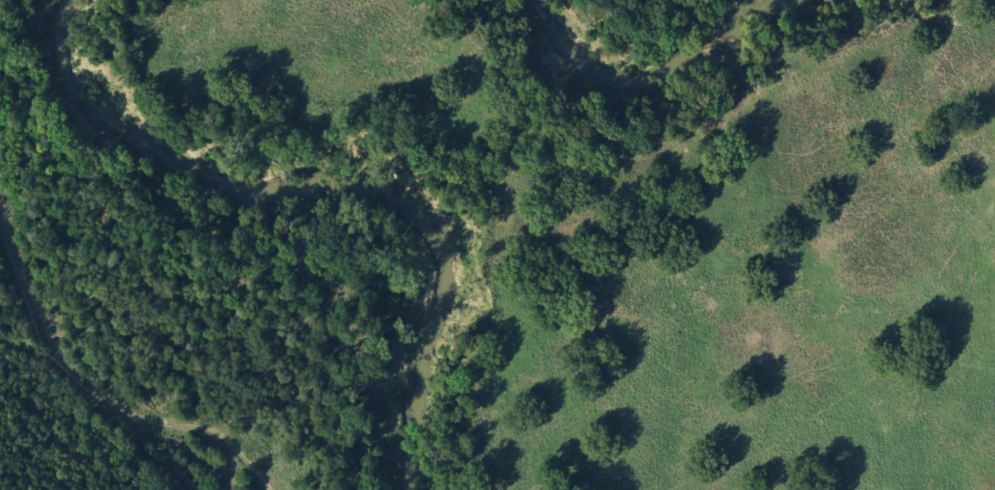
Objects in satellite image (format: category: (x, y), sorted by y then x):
road: (80, 358)

